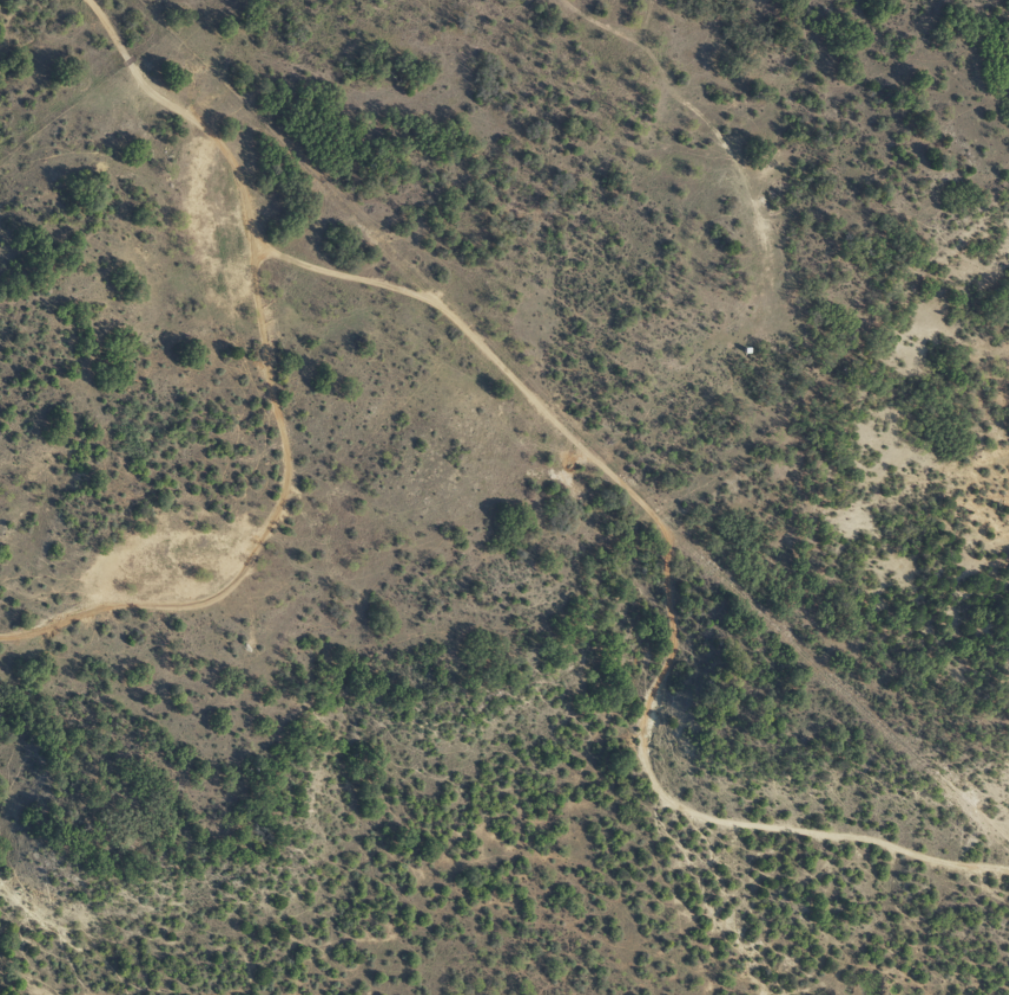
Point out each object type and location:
road: (292, 391)

